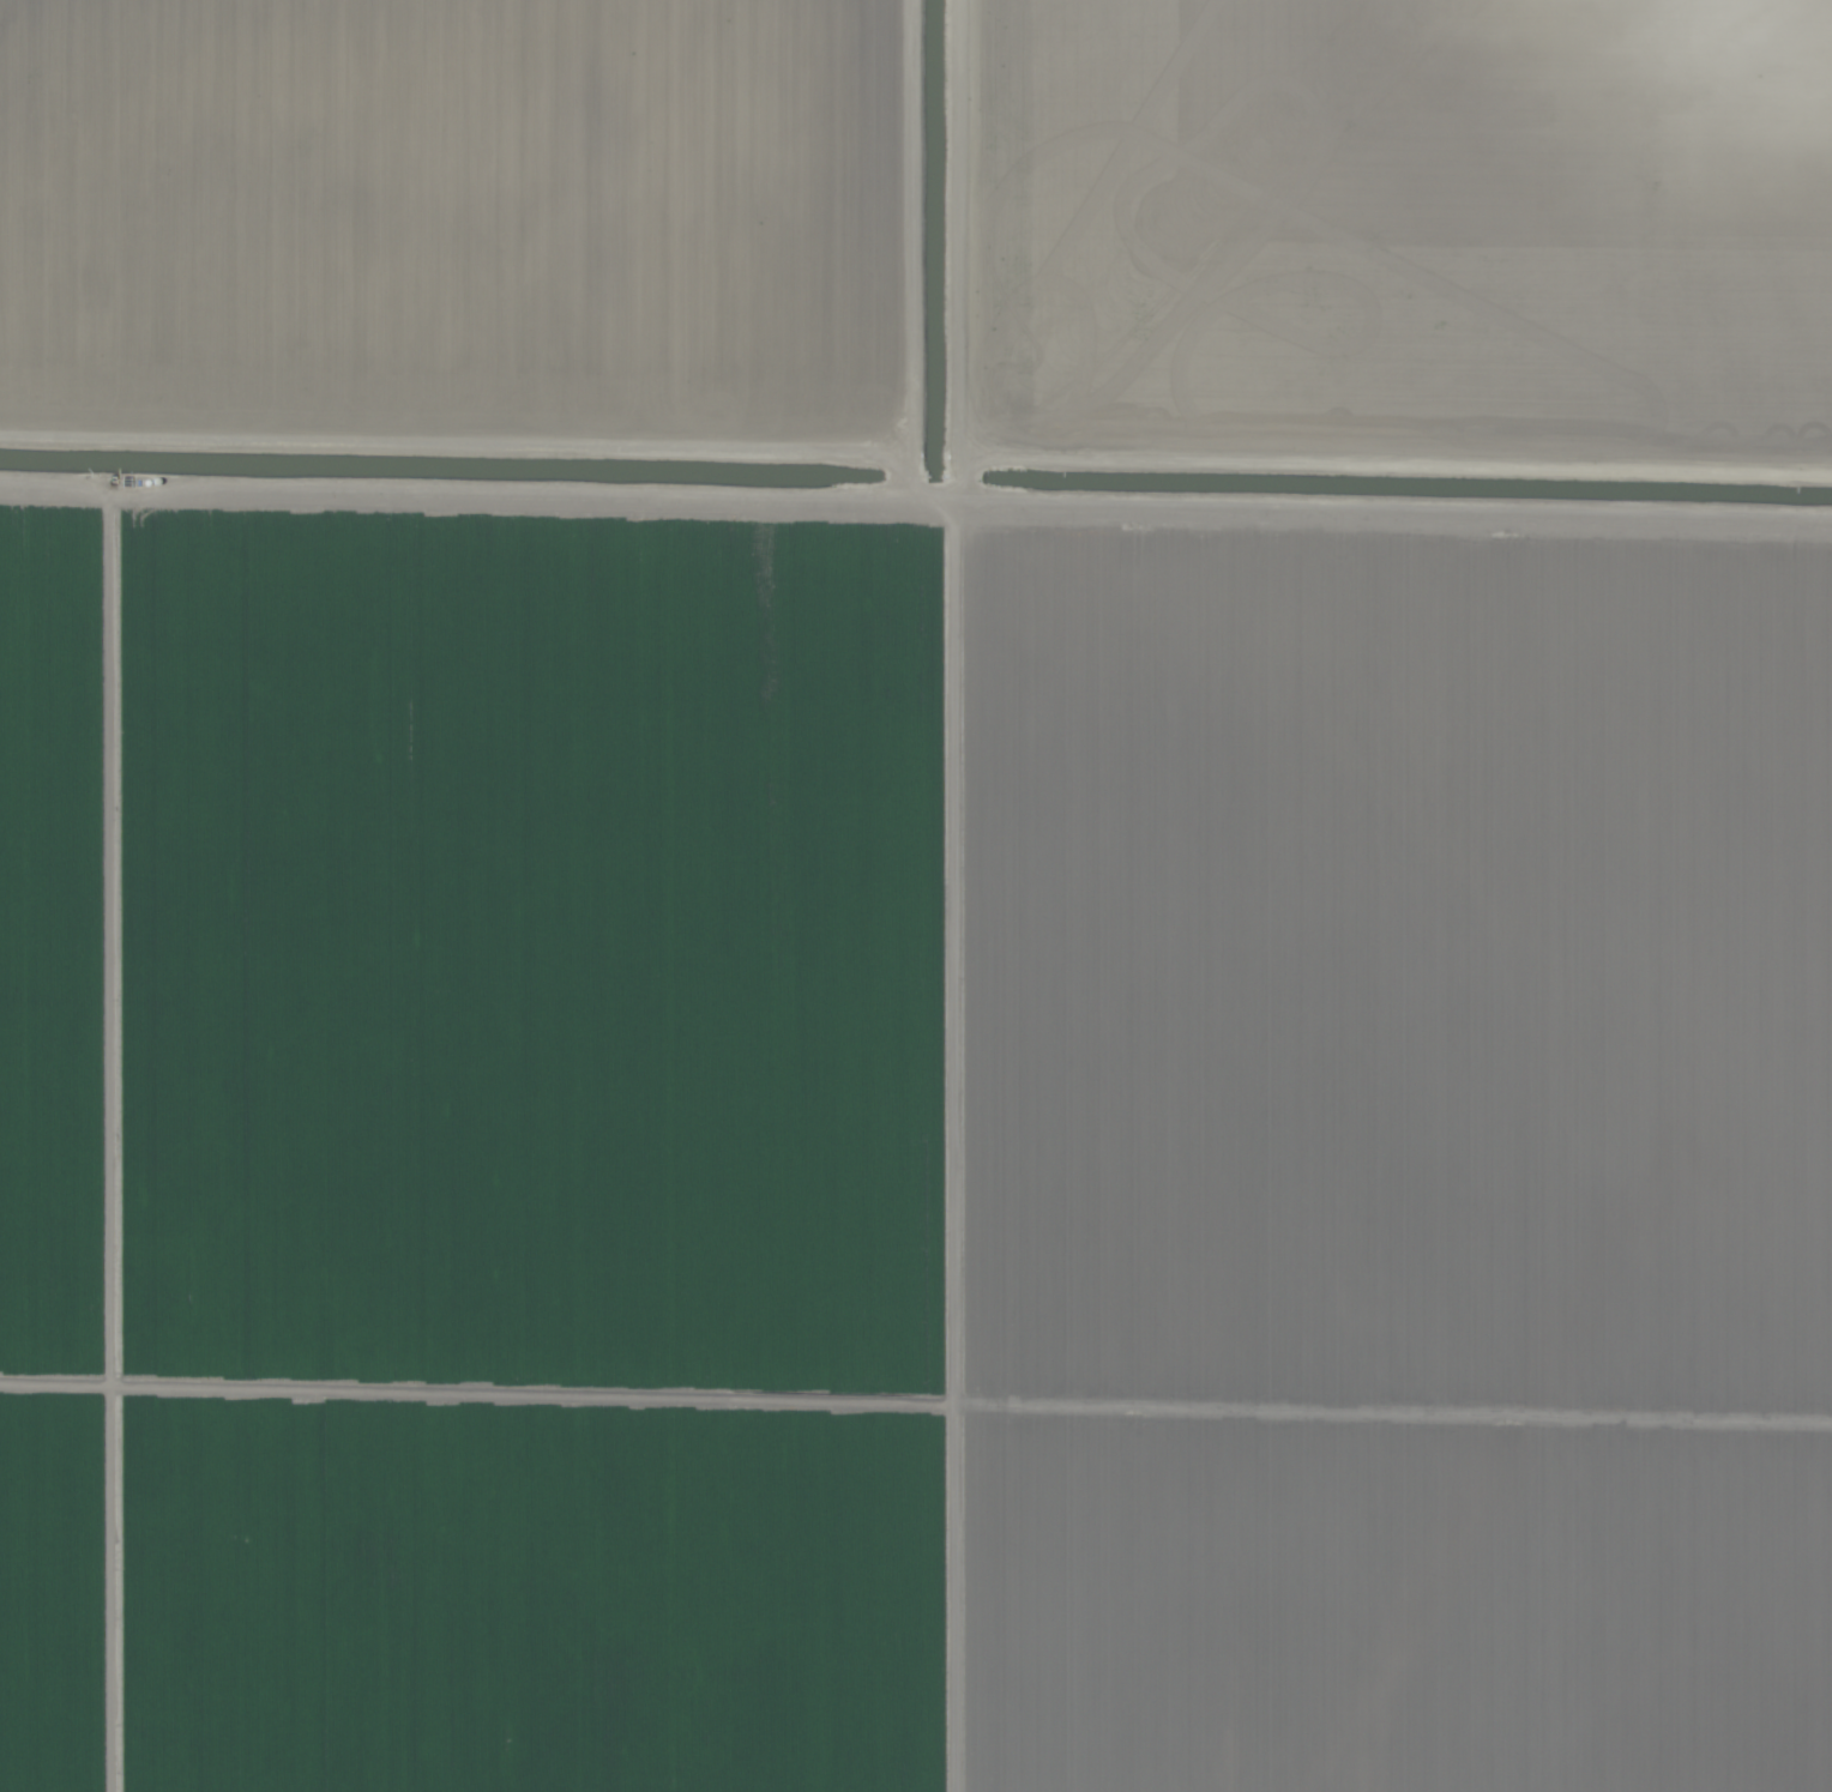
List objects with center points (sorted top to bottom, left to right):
road: (746, 509)
crop: (916, 895)
road: (941, 1160)

